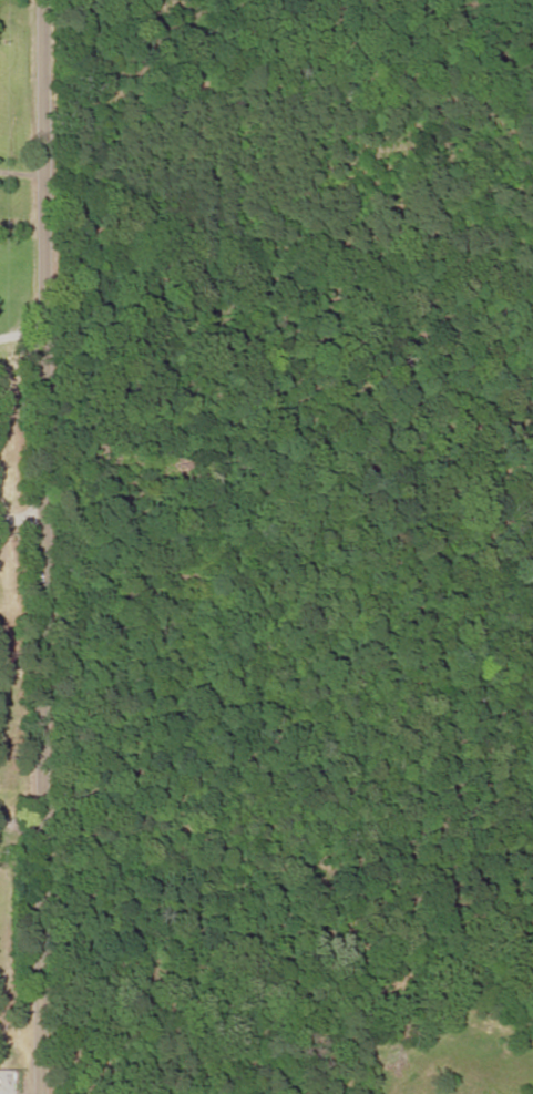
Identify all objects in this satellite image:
road: (22, 333)
road: (48, 546)

